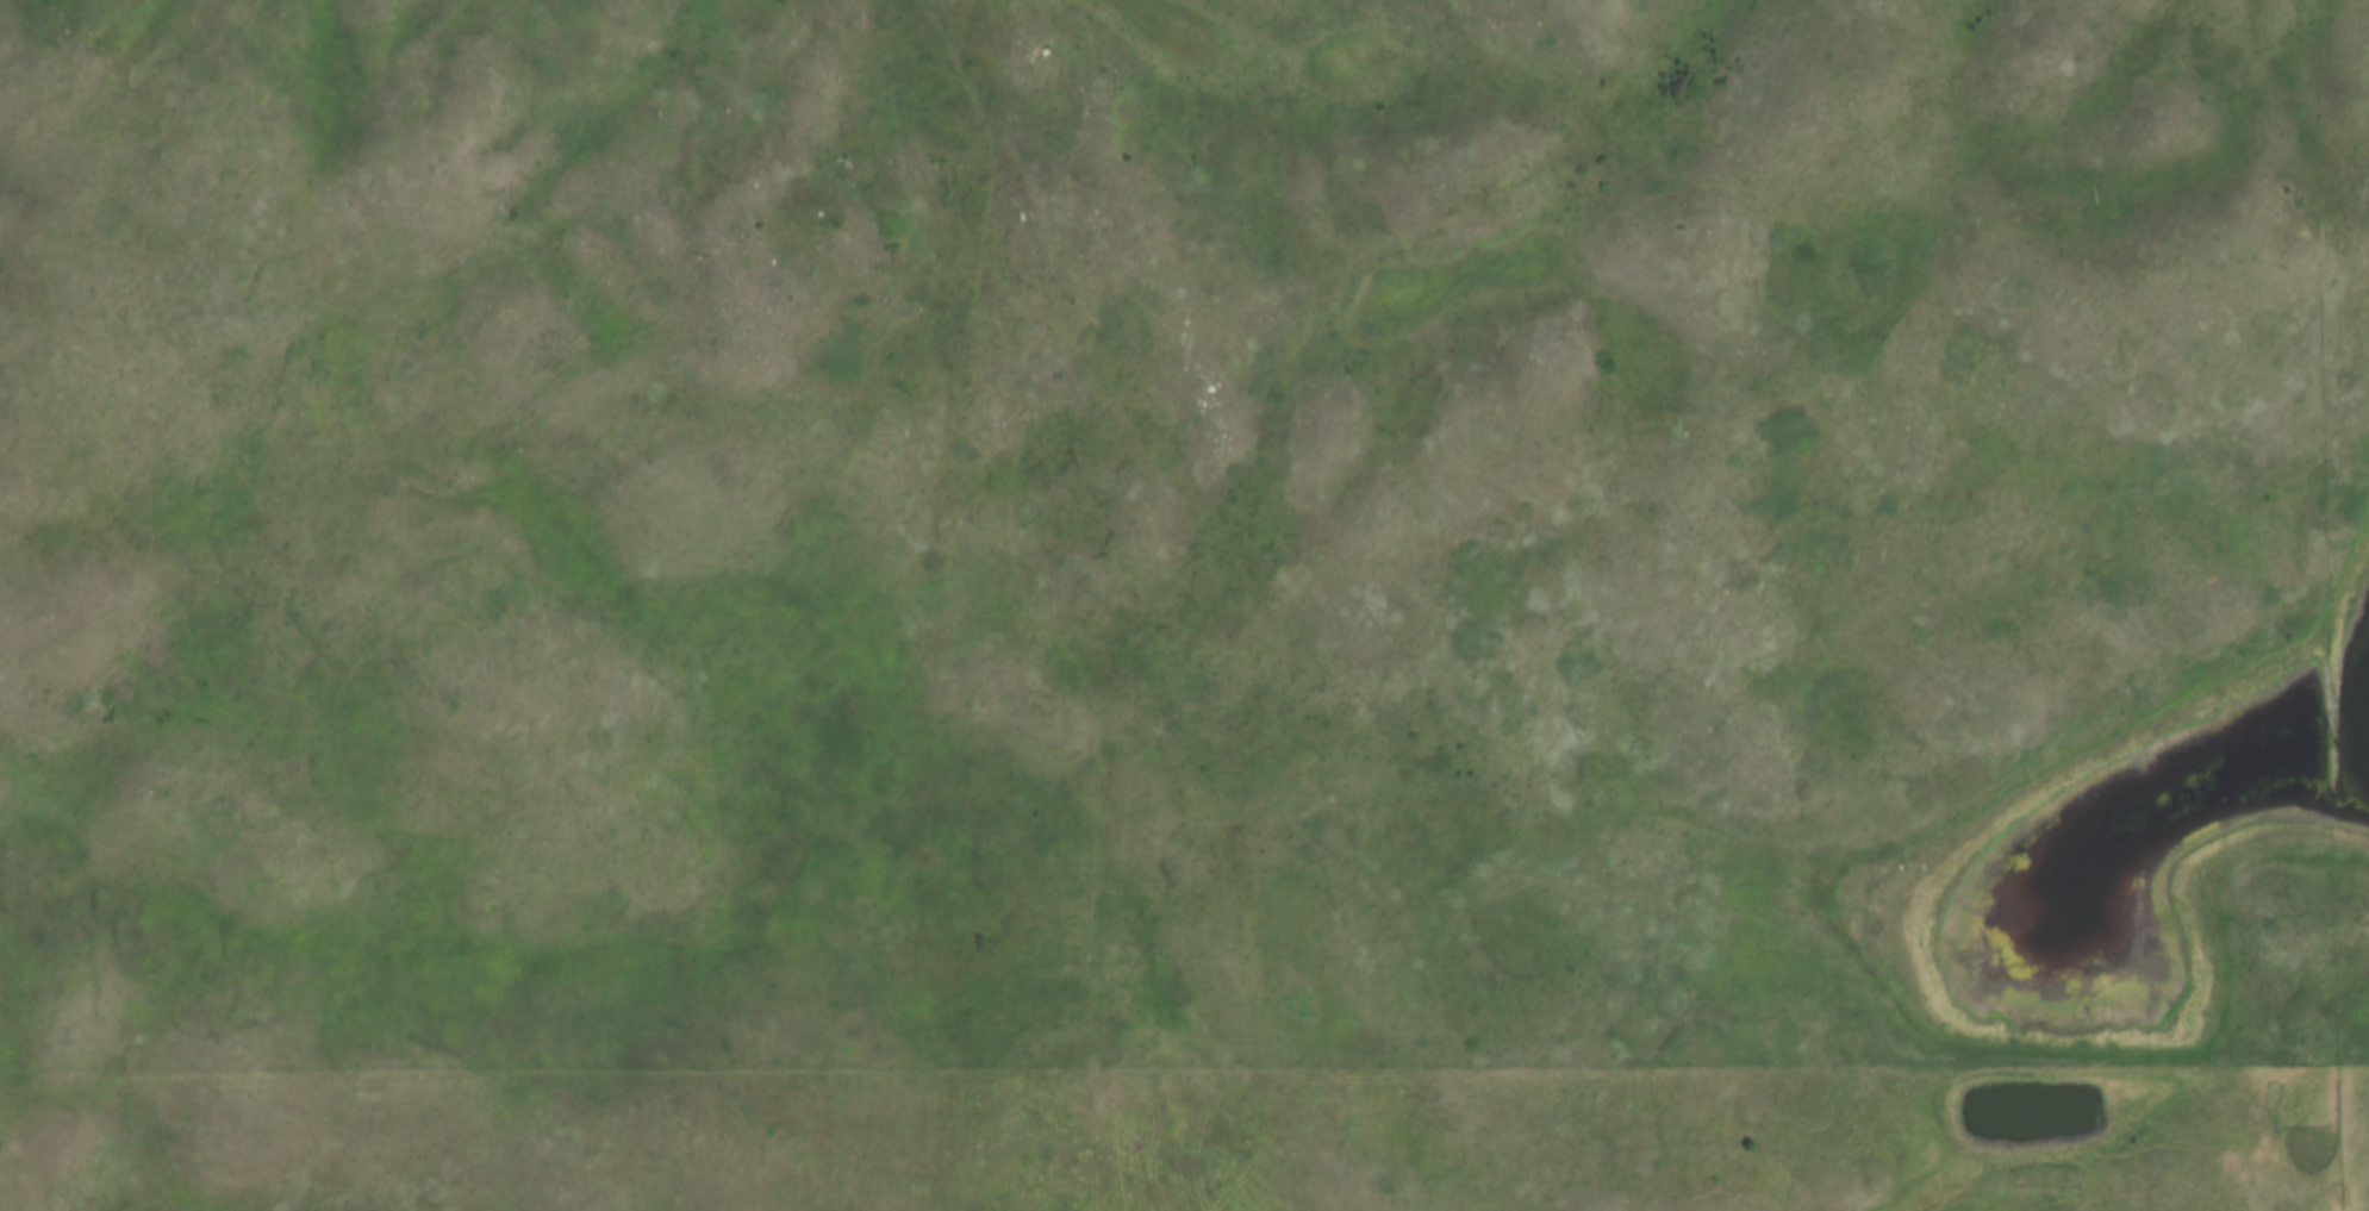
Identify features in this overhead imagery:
road: (2263, 1182)

